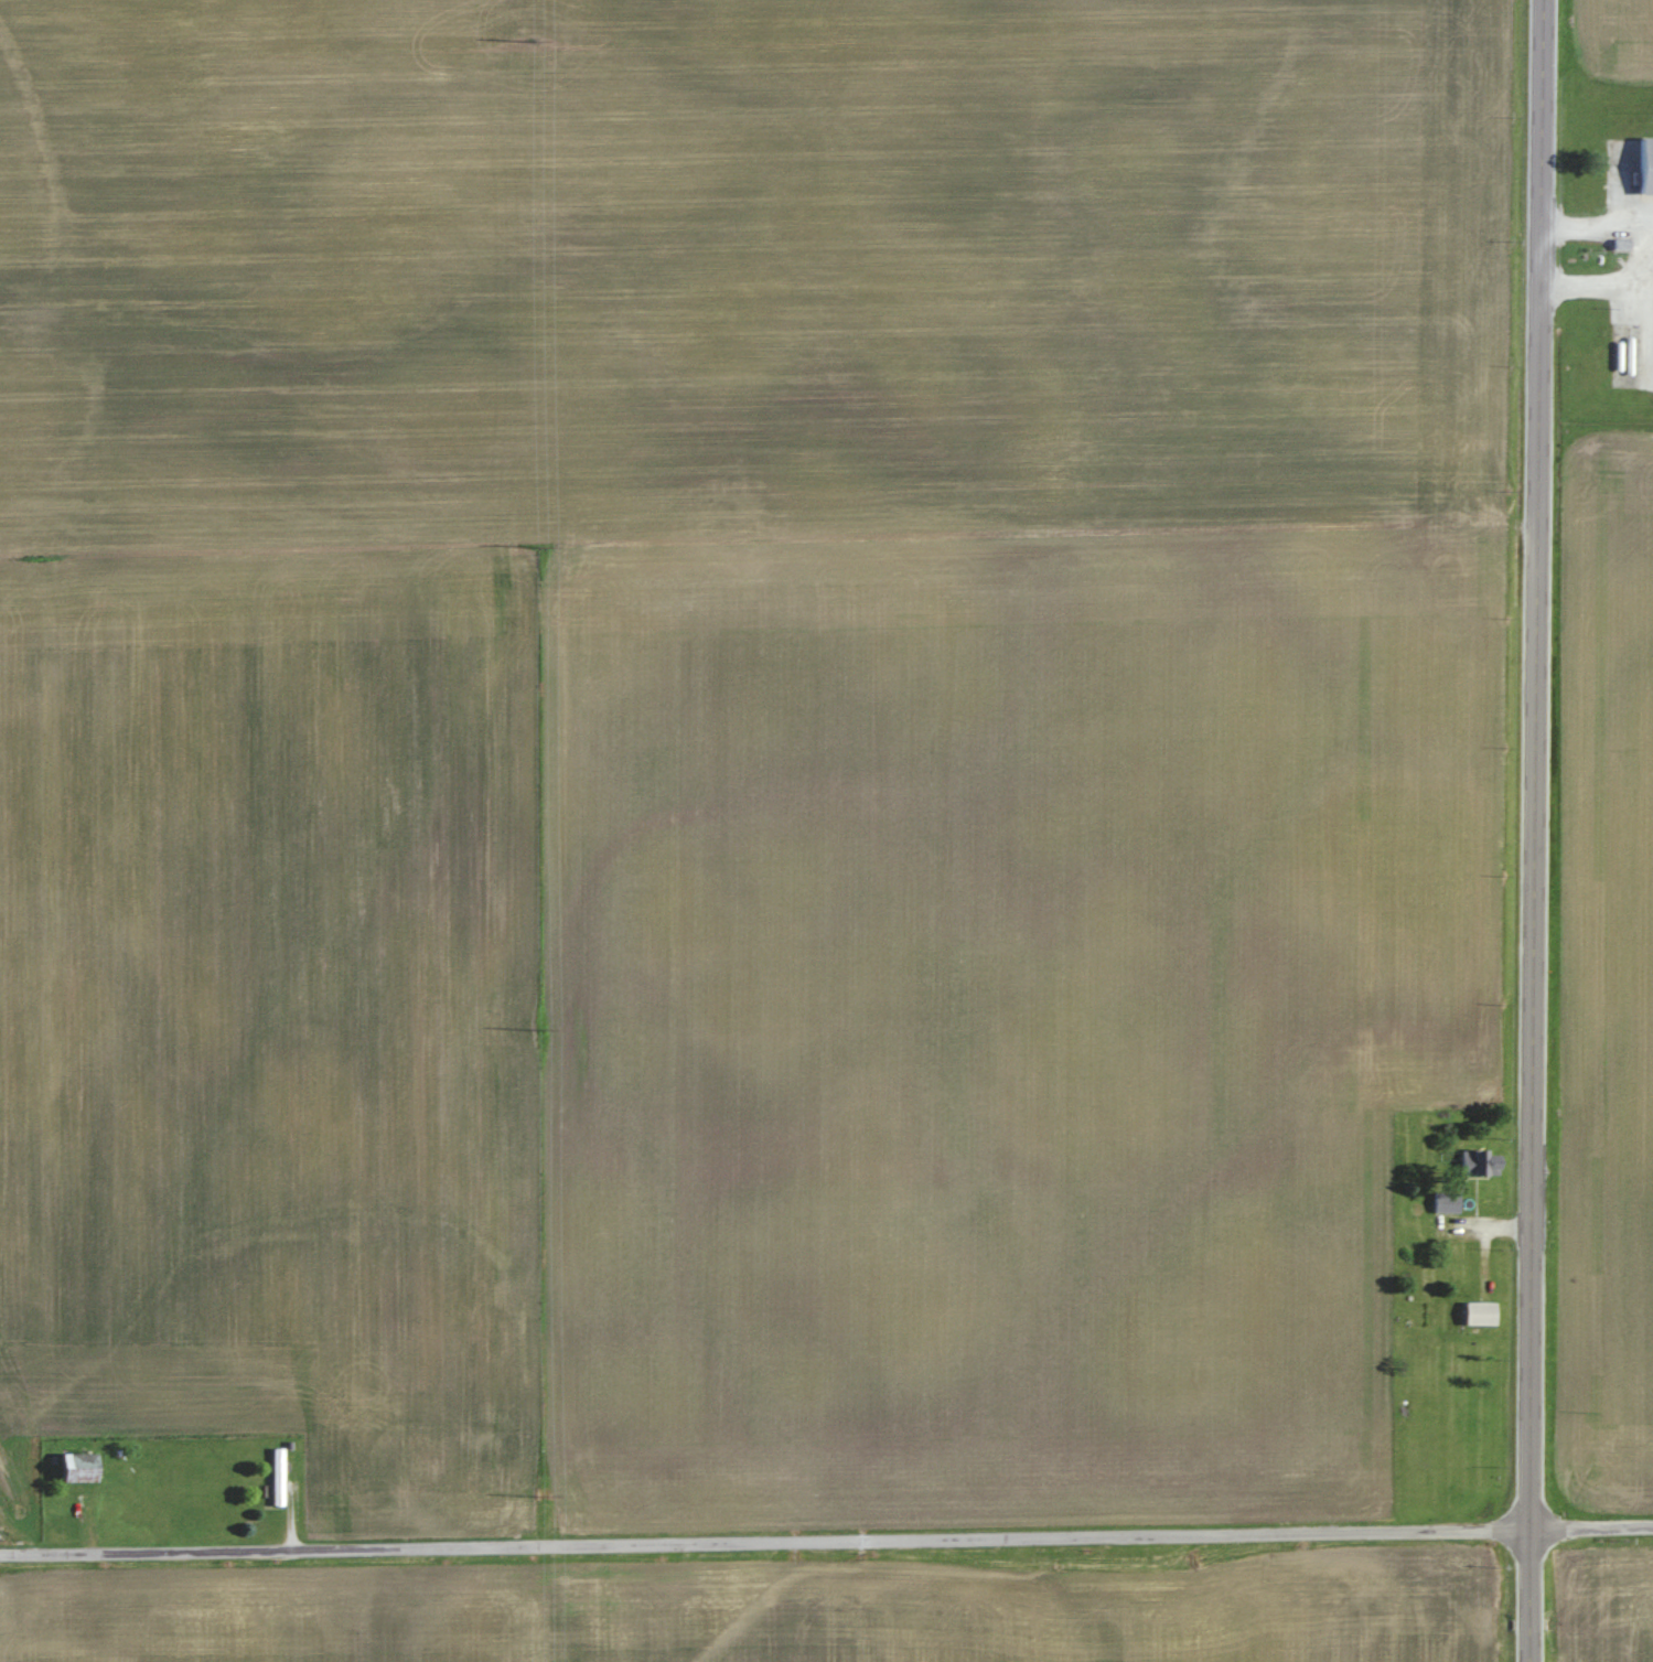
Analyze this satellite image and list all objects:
building: (1645, 164)
building: (1624, 354)
road: (1534, 830)
building: (1483, 1162)
building: (1448, 1201)
building: (1480, 1312)
building: (82, 1467)
building: (278, 1476)
road: (826, 1535)

